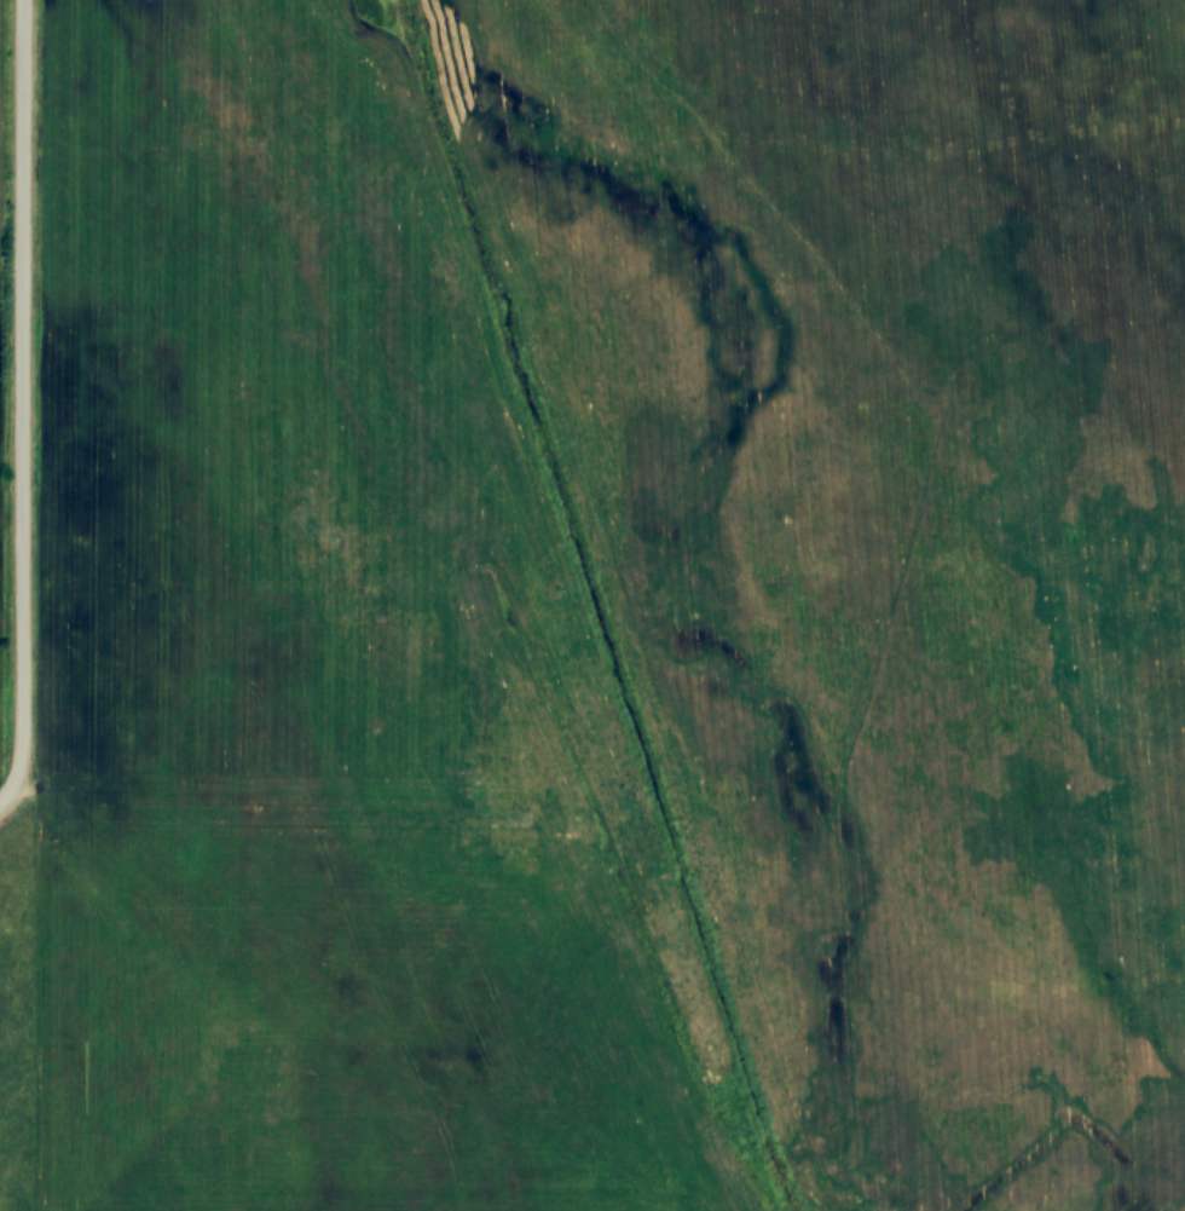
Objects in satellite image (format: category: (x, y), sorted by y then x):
road: (46, 417)

